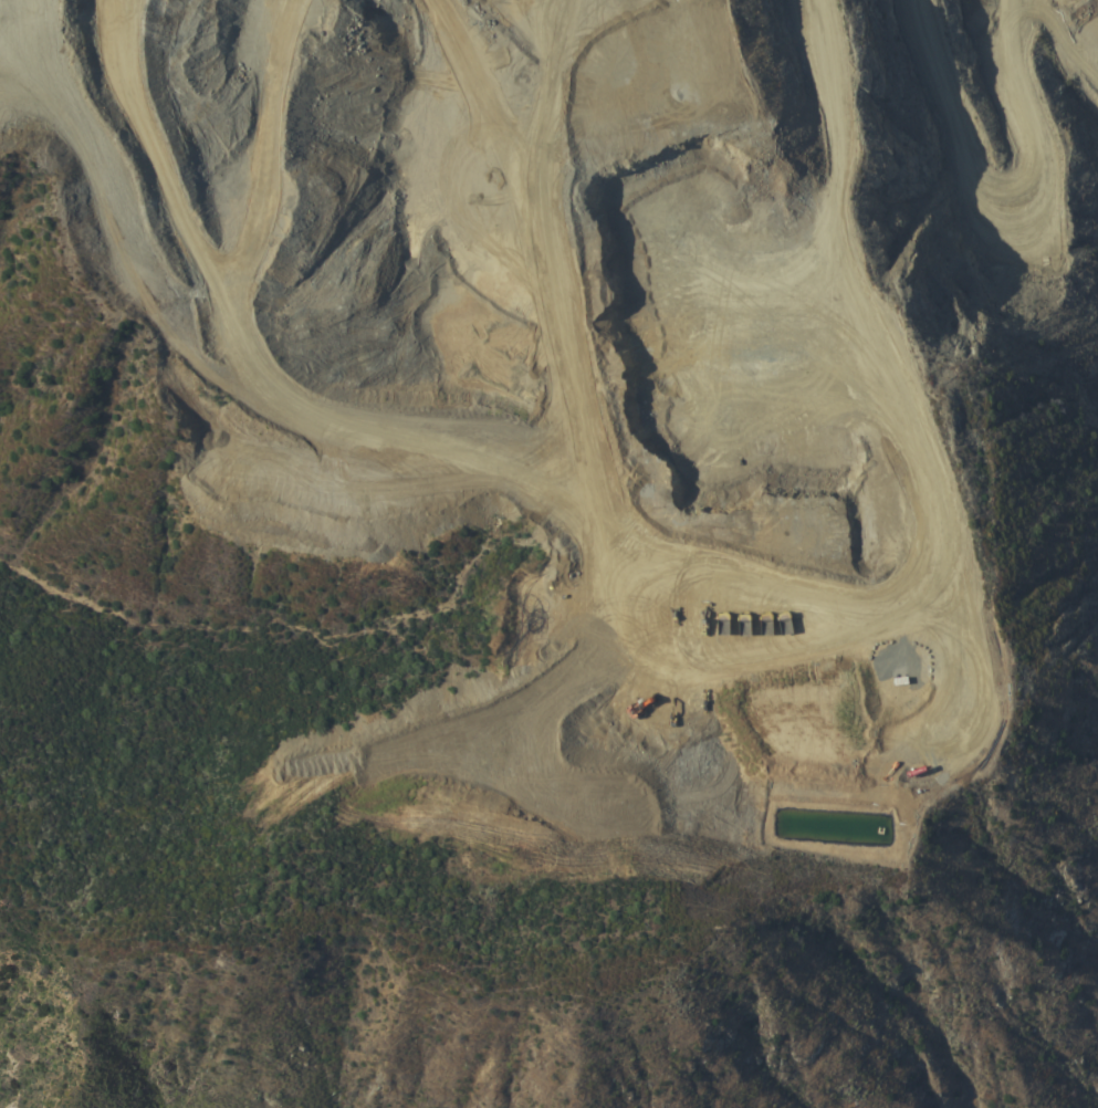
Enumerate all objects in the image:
road: (1064, 36)
road: (857, 160)
road: (818, 223)
quarry: (721, 399)
road: (751, 670)

